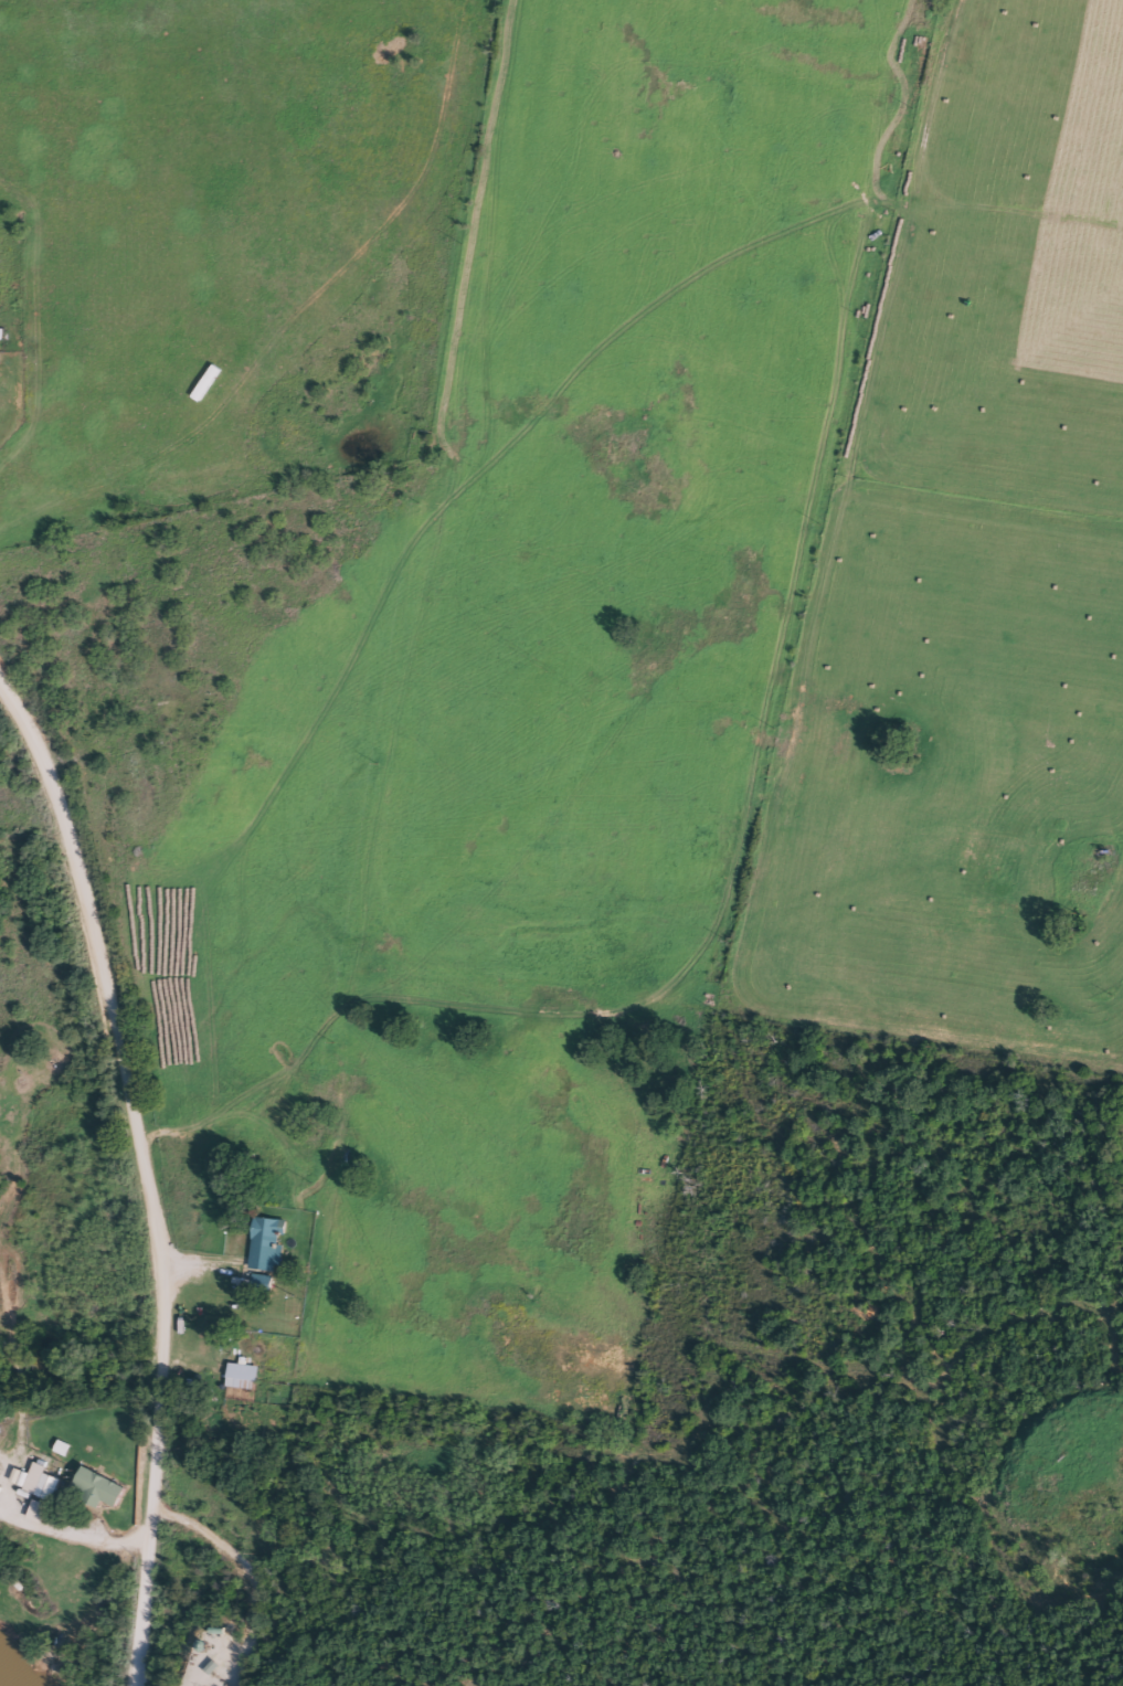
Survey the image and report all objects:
road: (146, 1170)
building: (263, 1243)
building: (257, 1283)
building: (239, 1376)
building: (39, 1482)
building: (94, 1488)

